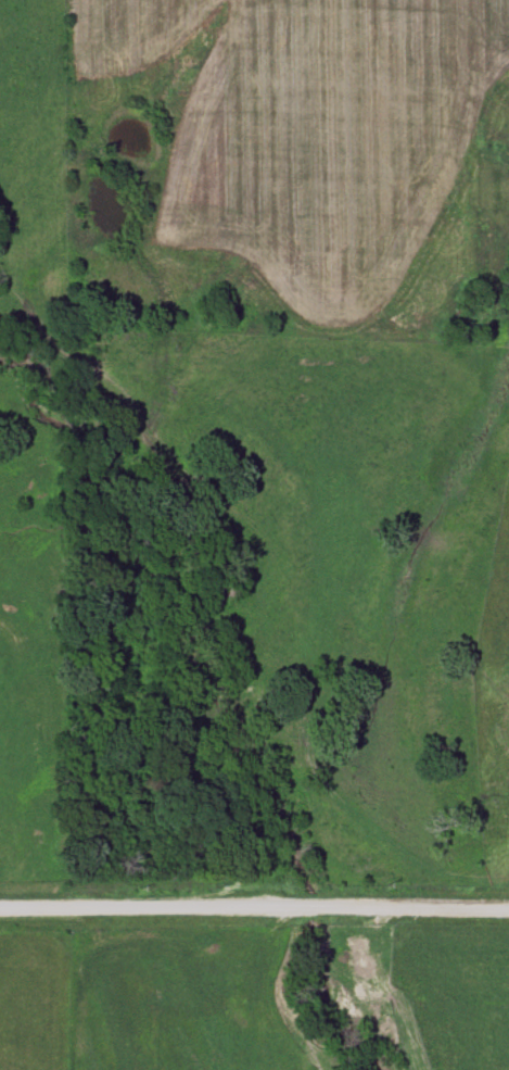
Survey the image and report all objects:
road: (254, 907)

